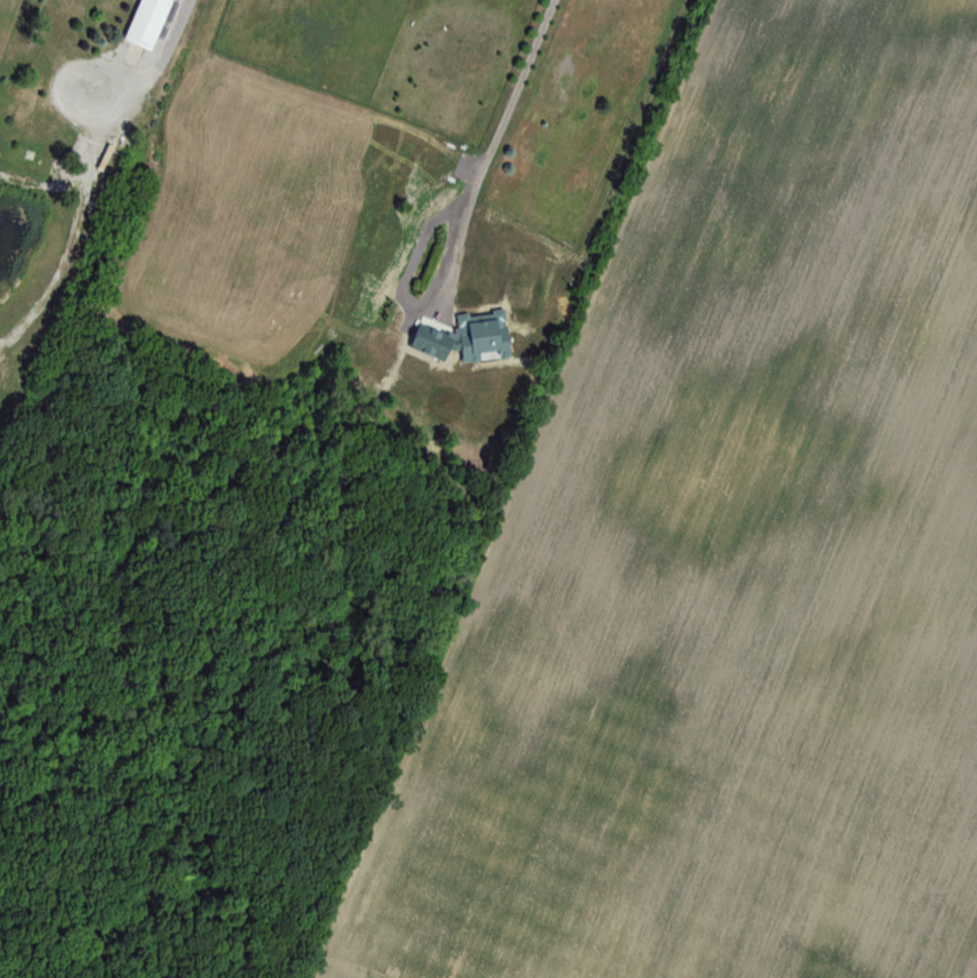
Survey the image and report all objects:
building: (147, 23)
crop: (10, 26)
road: (156, 67)
road: (506, 154)
crop: (738, 559)

